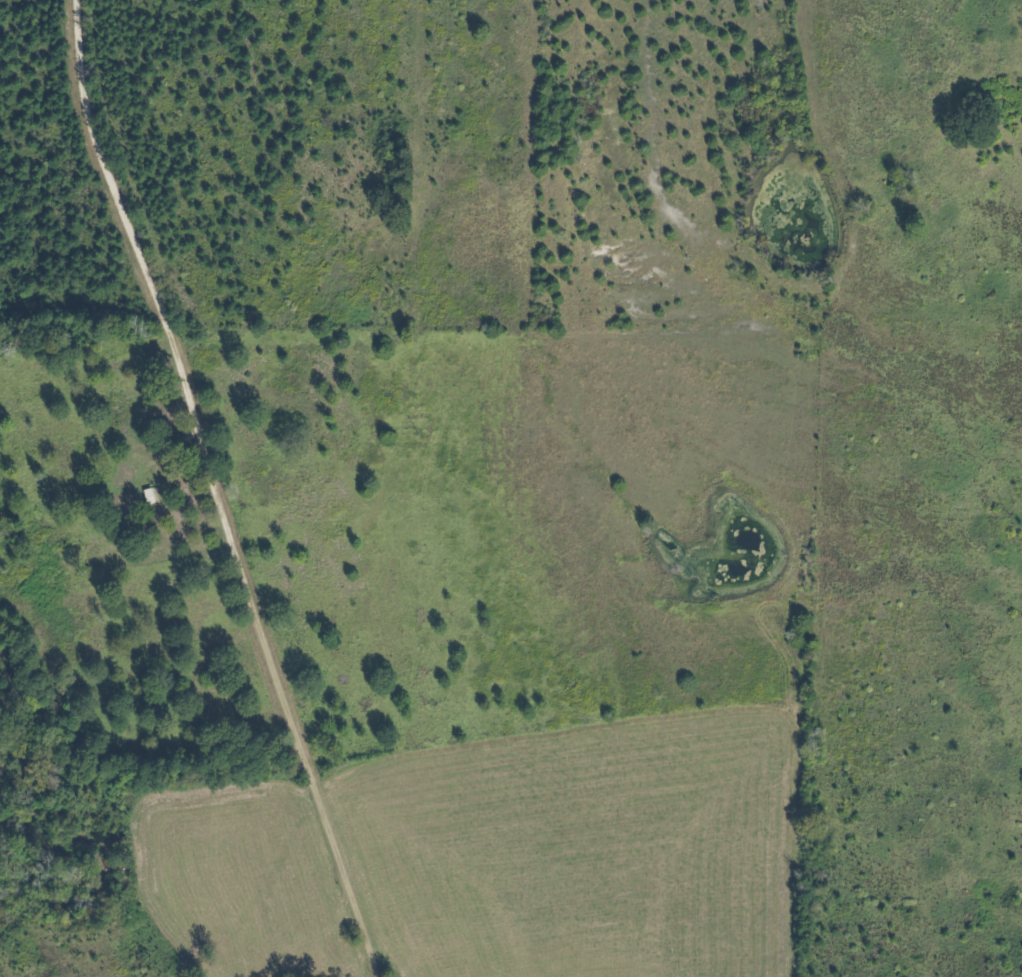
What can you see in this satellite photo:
building: (146, 495)

